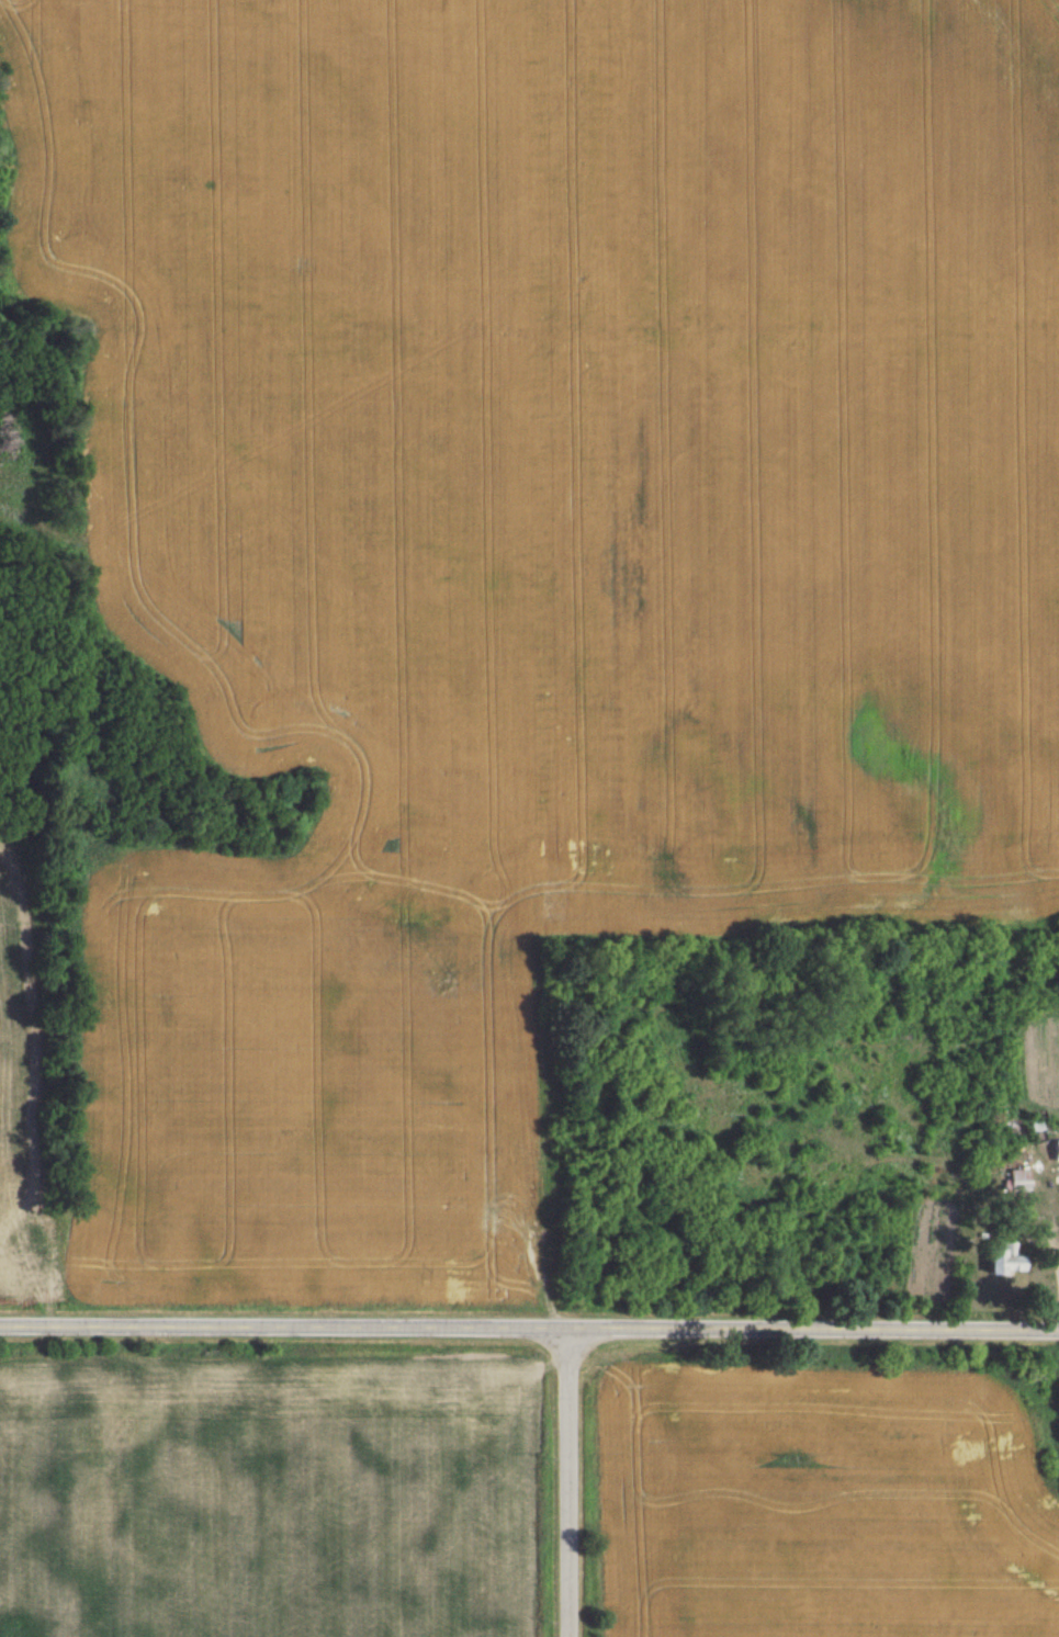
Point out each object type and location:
building: (1054, 1150)
building: (1016, 1178)
building: (995, 1258)
road: (529, 1328)
road: (566, 1482)

